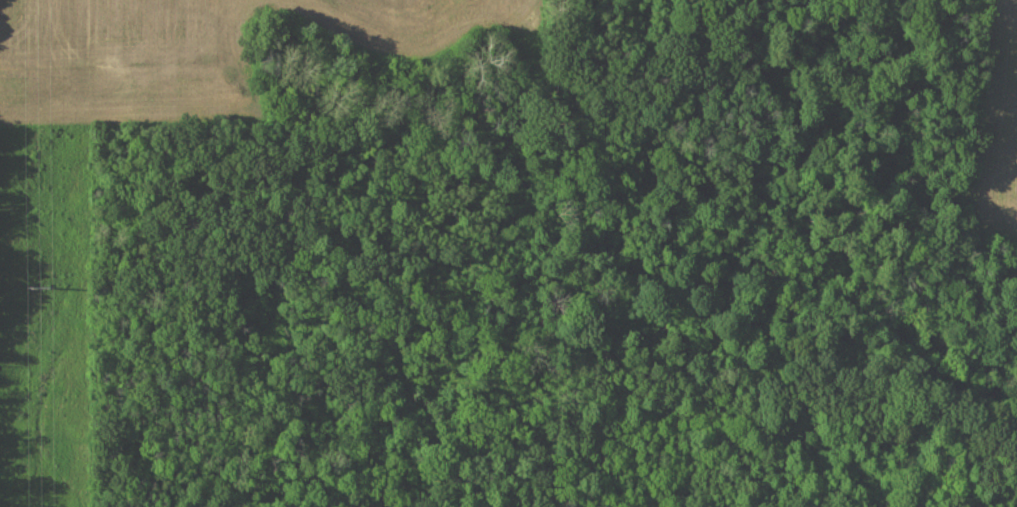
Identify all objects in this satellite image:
power tower: (38, 288)

